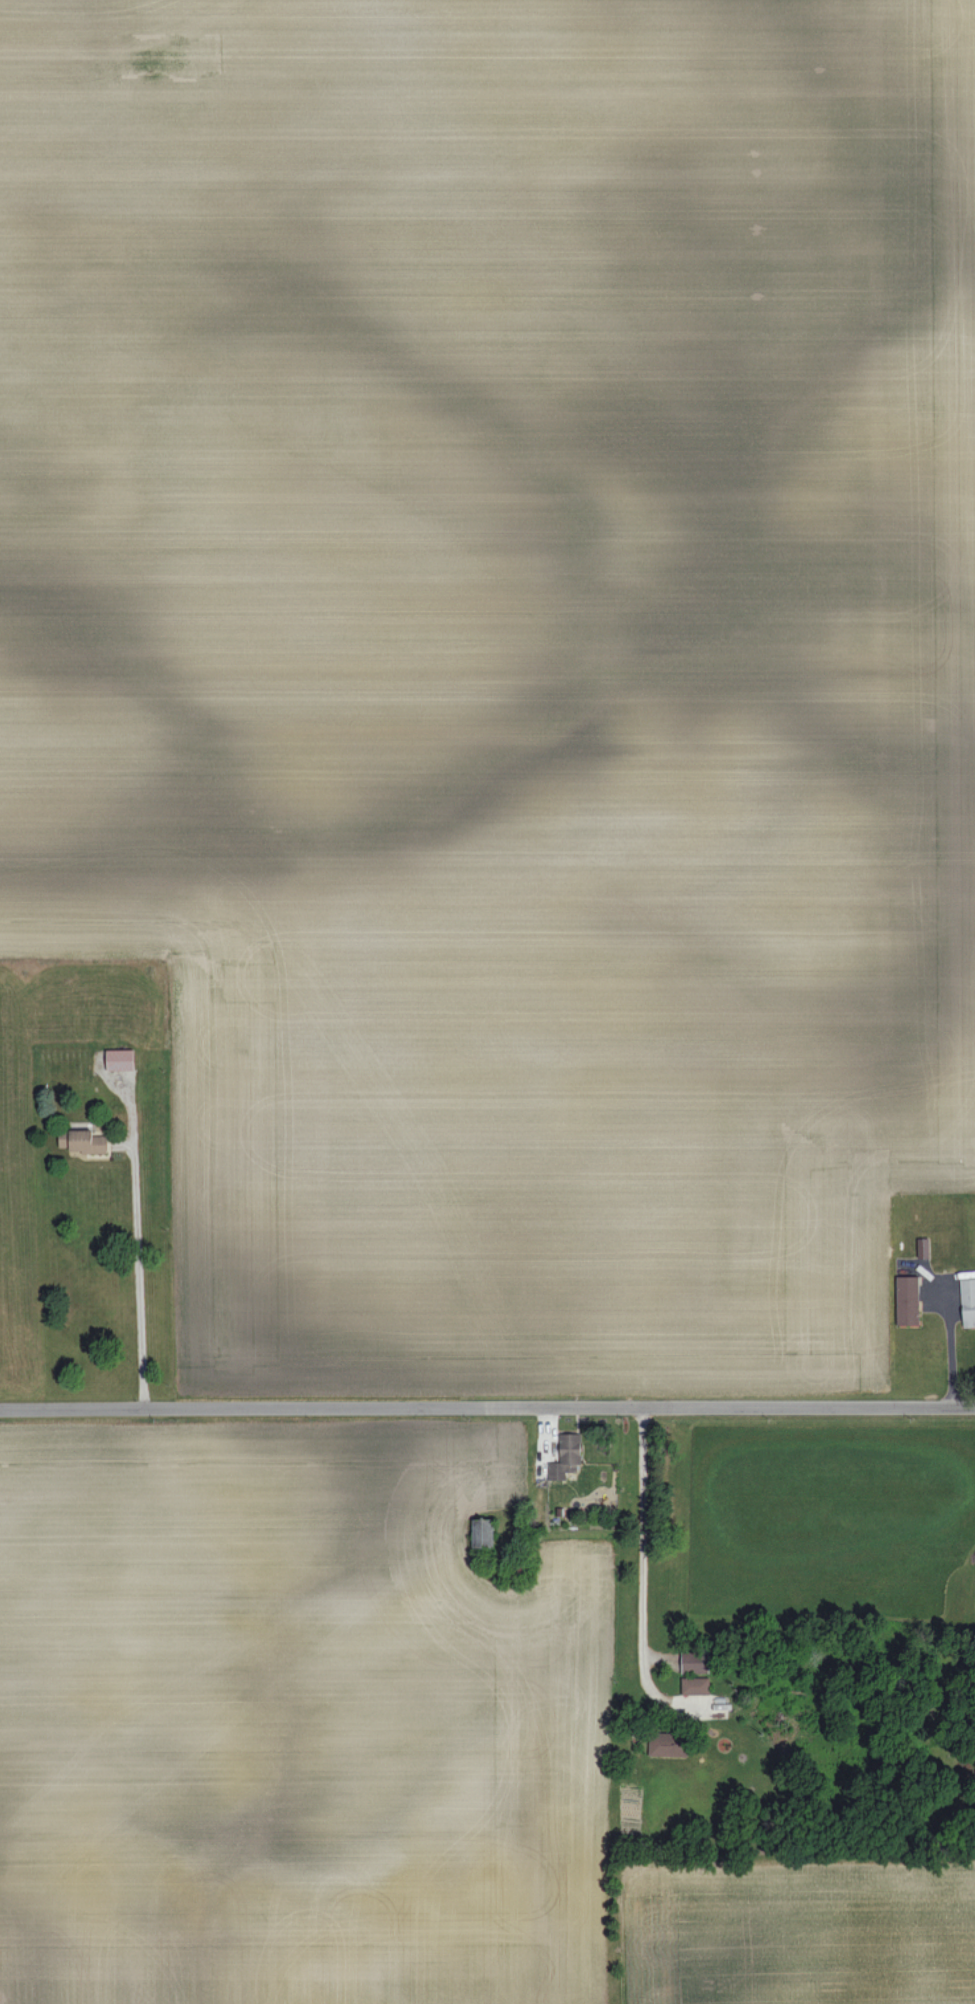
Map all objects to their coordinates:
building: (120, 1059)
building: (81, 1140)
building: (923, 1247)
road: (139, 1272)
building: (907, 1300)
building: (968, 1301)
road: (487, 1405)
building: (566, 1457)
building: (480, 1532)
road: (642, 1553)
building: (695, 1662)
building: (695, 1685)
building: (667, 1744)

